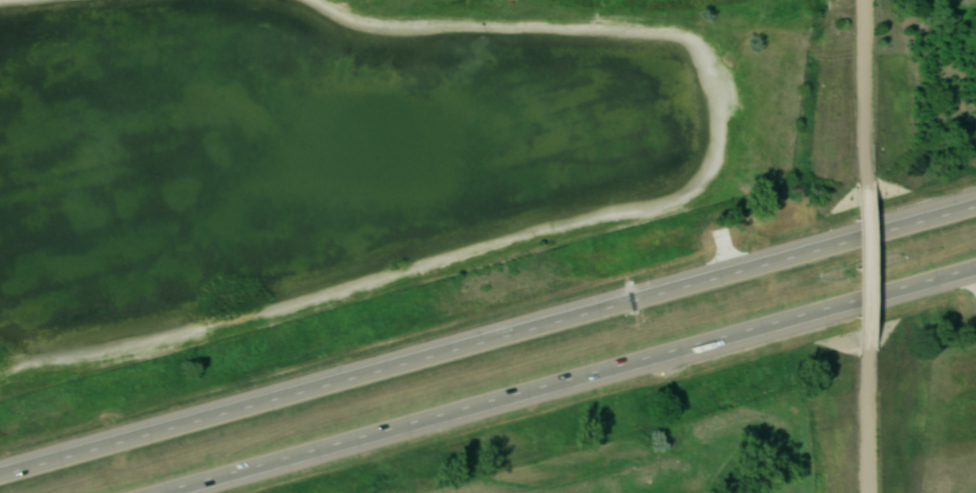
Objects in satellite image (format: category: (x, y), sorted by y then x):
road: (853, 92)
road: (853, 268)
road: (487, 342)
road: (576, 382)
road: (858, 423)

